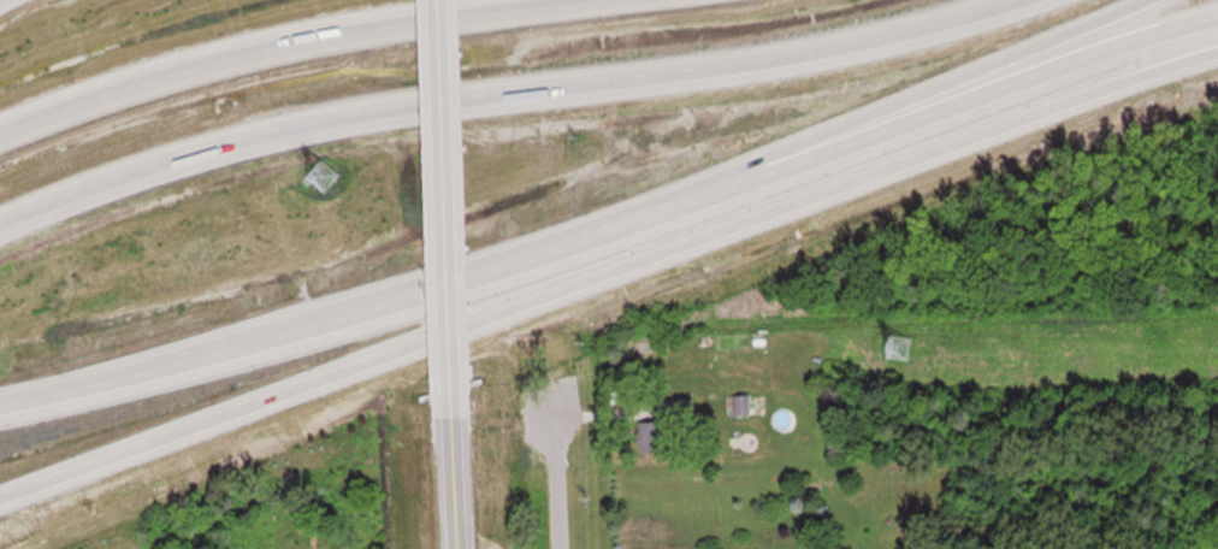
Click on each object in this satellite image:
road: (2, 1)
road: (271, 42)
road: (441, 48)
road: (507, 91)
road: (840, 134)
road: (871, 138)
building: (324, 173)
road: (444, 173)
power tower: (327, 176)
road: (608, 274)
road: (450, 318)
road: (265, 343)
power tower: (900, 347)
building: (747, 405)
building: (652, 436)
road: (460, 468)
road: (549, 484)
building: (262, 519)

